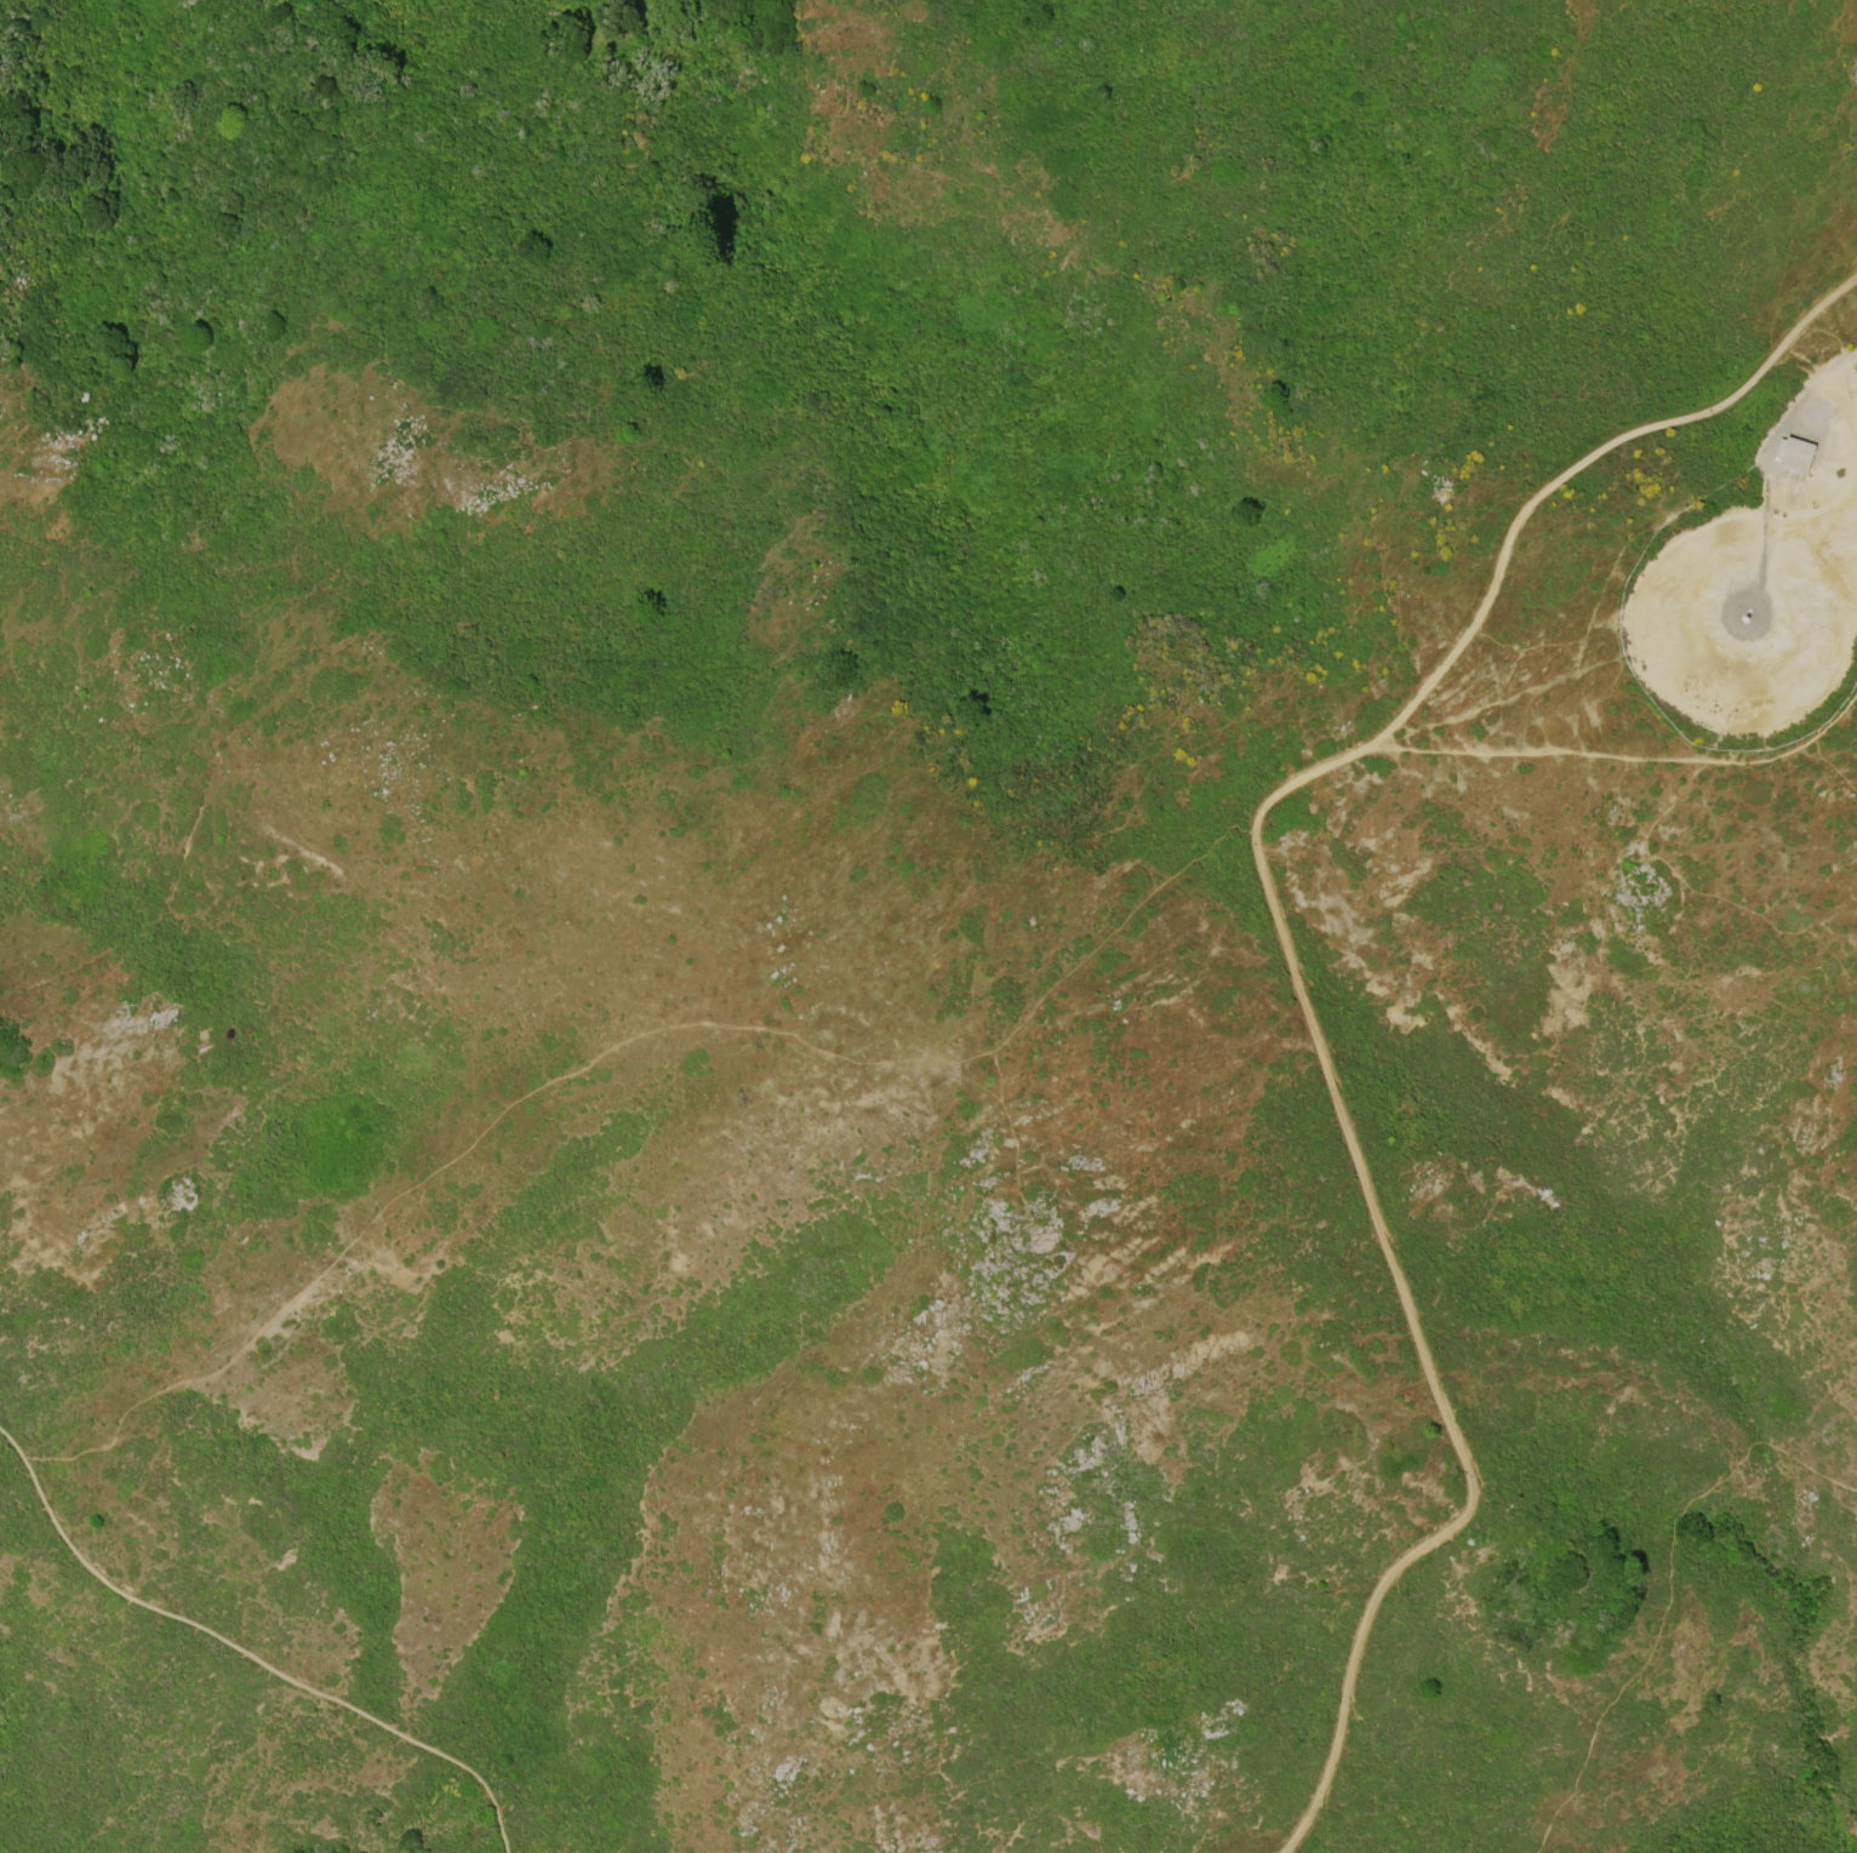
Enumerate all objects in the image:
road: (1847, 362)
building: (1798, 458)
road: (1573, 474)
road: (1624, 763)
road: (1401, 1293)
road: (245, 1652)

